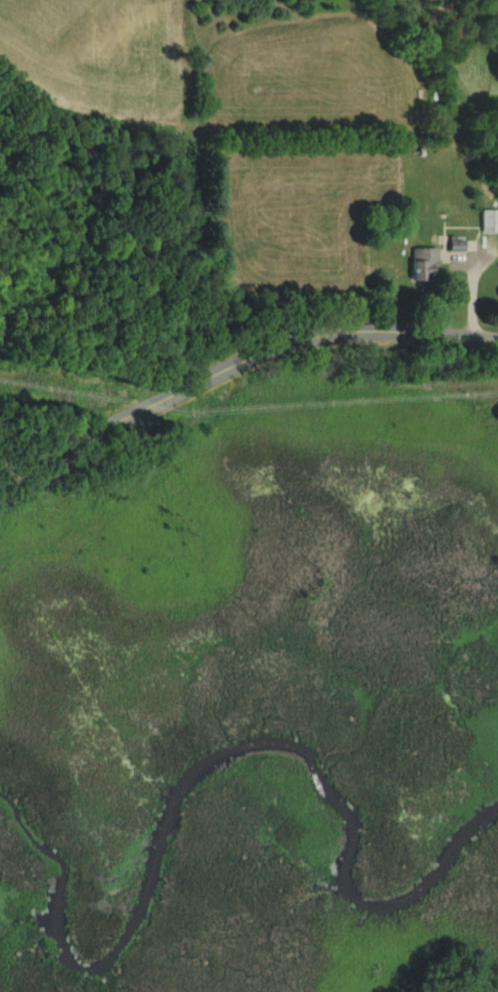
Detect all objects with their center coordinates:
crop: (97, 58)
building: (489, 223)
building: (424, 267)
road: (465, 284)
road: (241, 359)
river: (210, 766)

